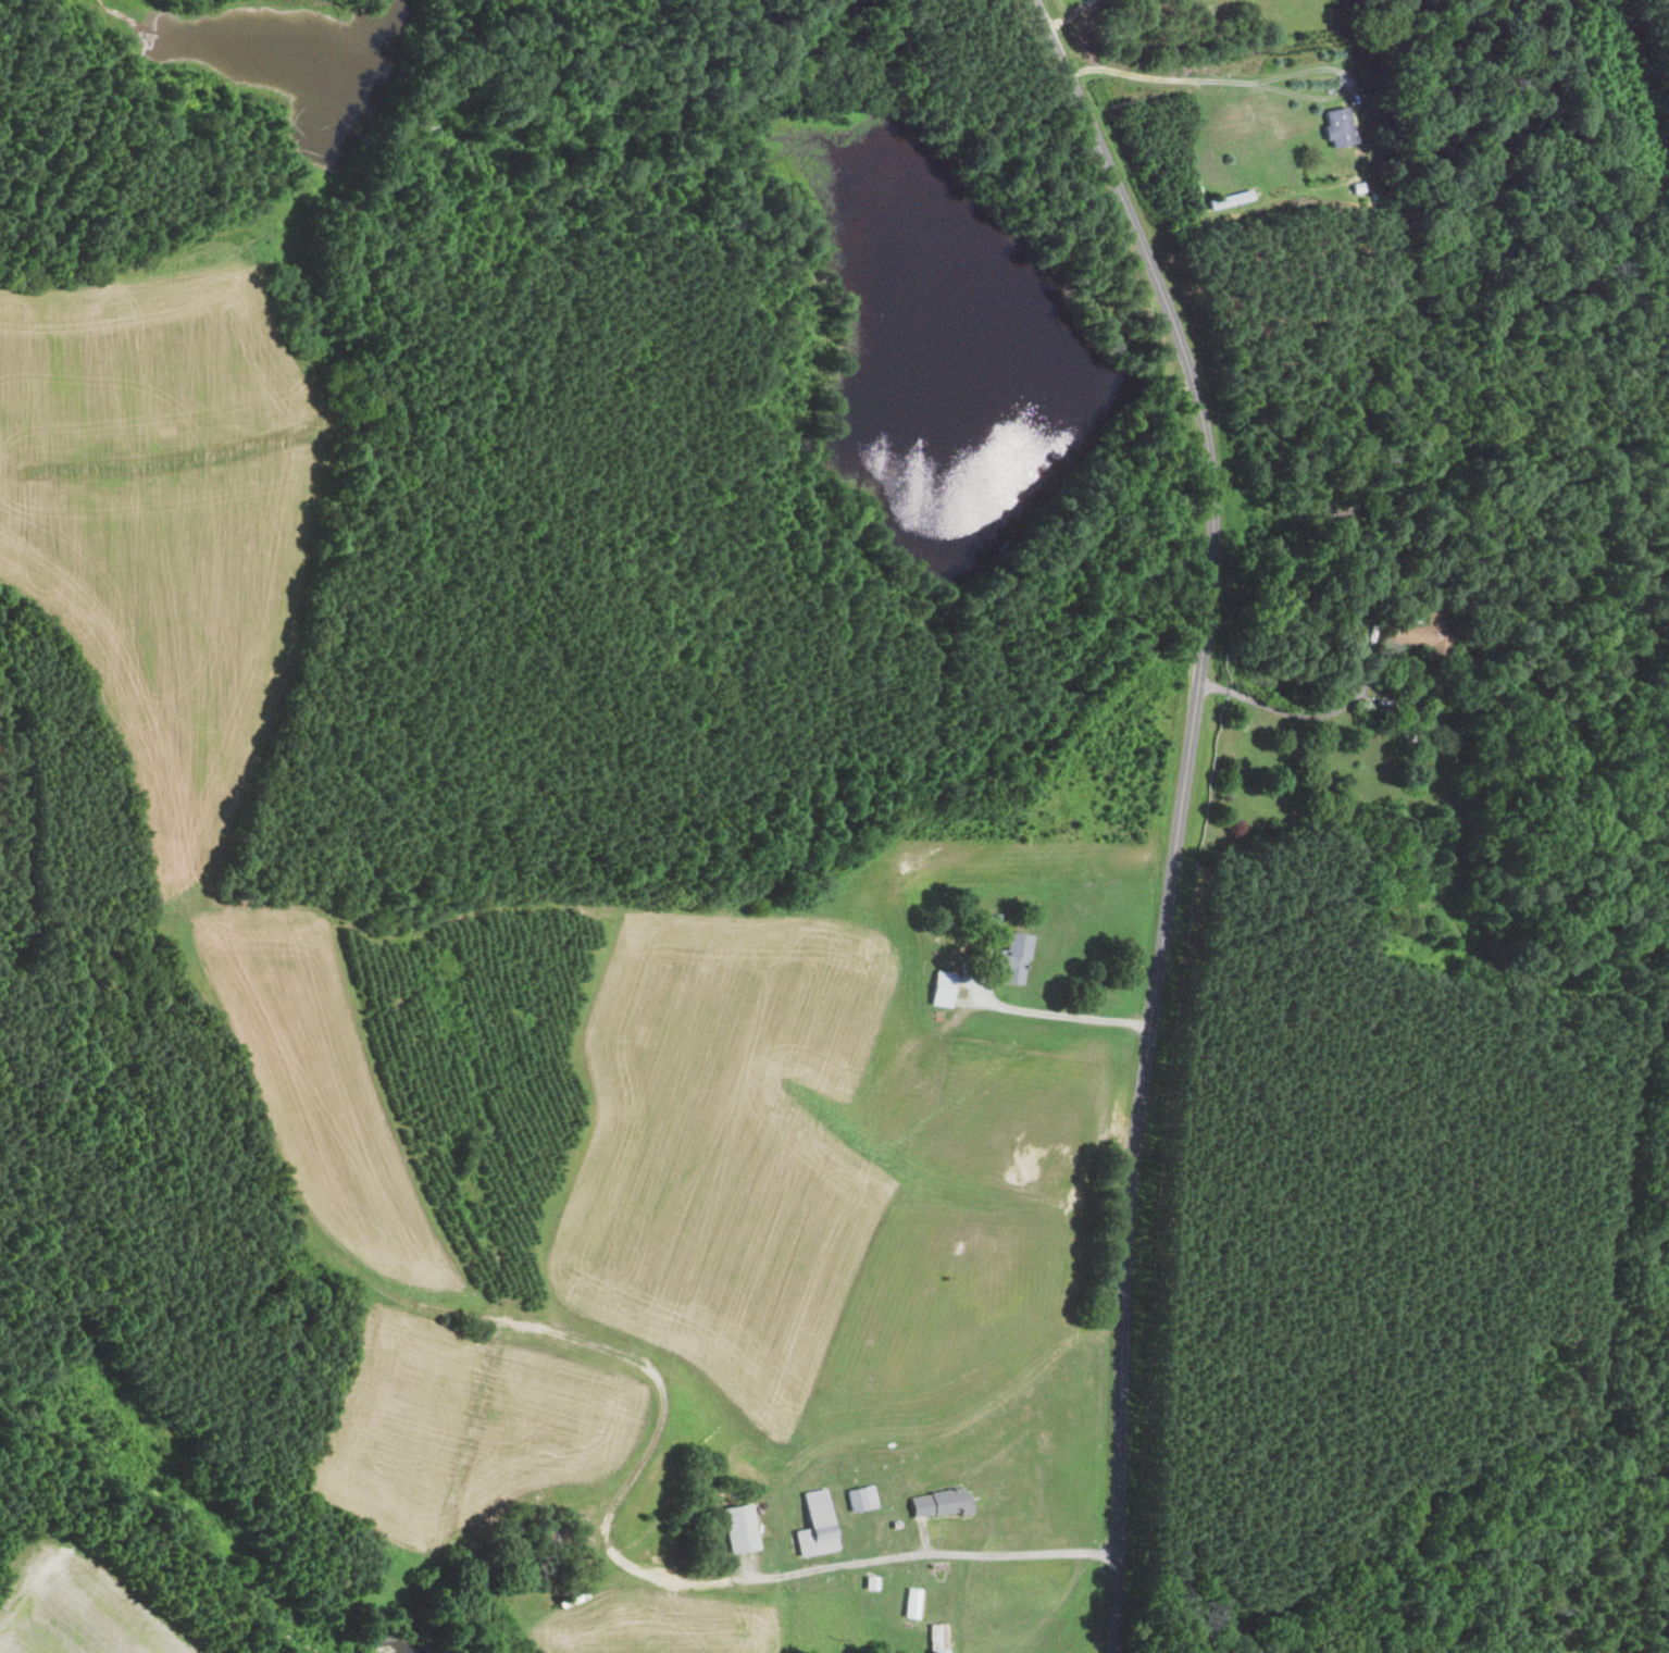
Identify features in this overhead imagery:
building: (1335, 126)
road: (308, 483)
building: (1421, 635)
road: (1184, 810)
building: (1009, 959)
building: (937, 990)
road: (1068, 1017)
road: (495, 1318)
building: (859, 1497)
building: (935, 1503)
building: (812, 1525)
building: (734, 1528)
building: (908, 1603)

